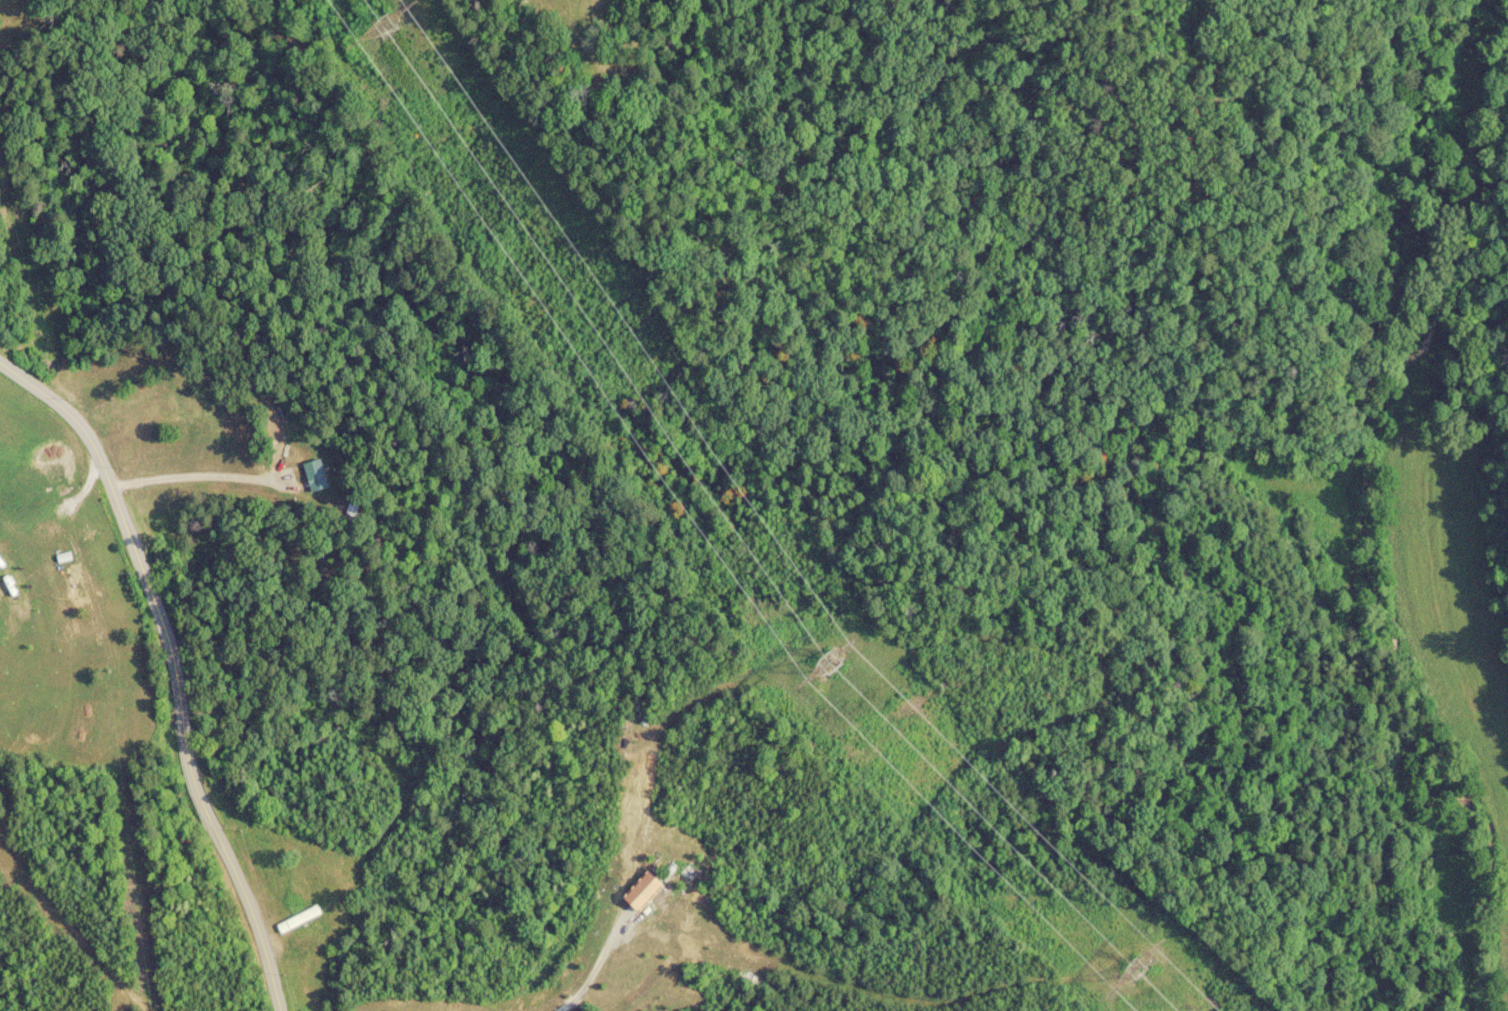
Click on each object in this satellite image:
power tower: (396, 29)
building: (316, 475)
building: (75, 590)
power tower: (829, 663)
road: (159, 671)
building: (642, 891)
power tower: (1136, 970)

